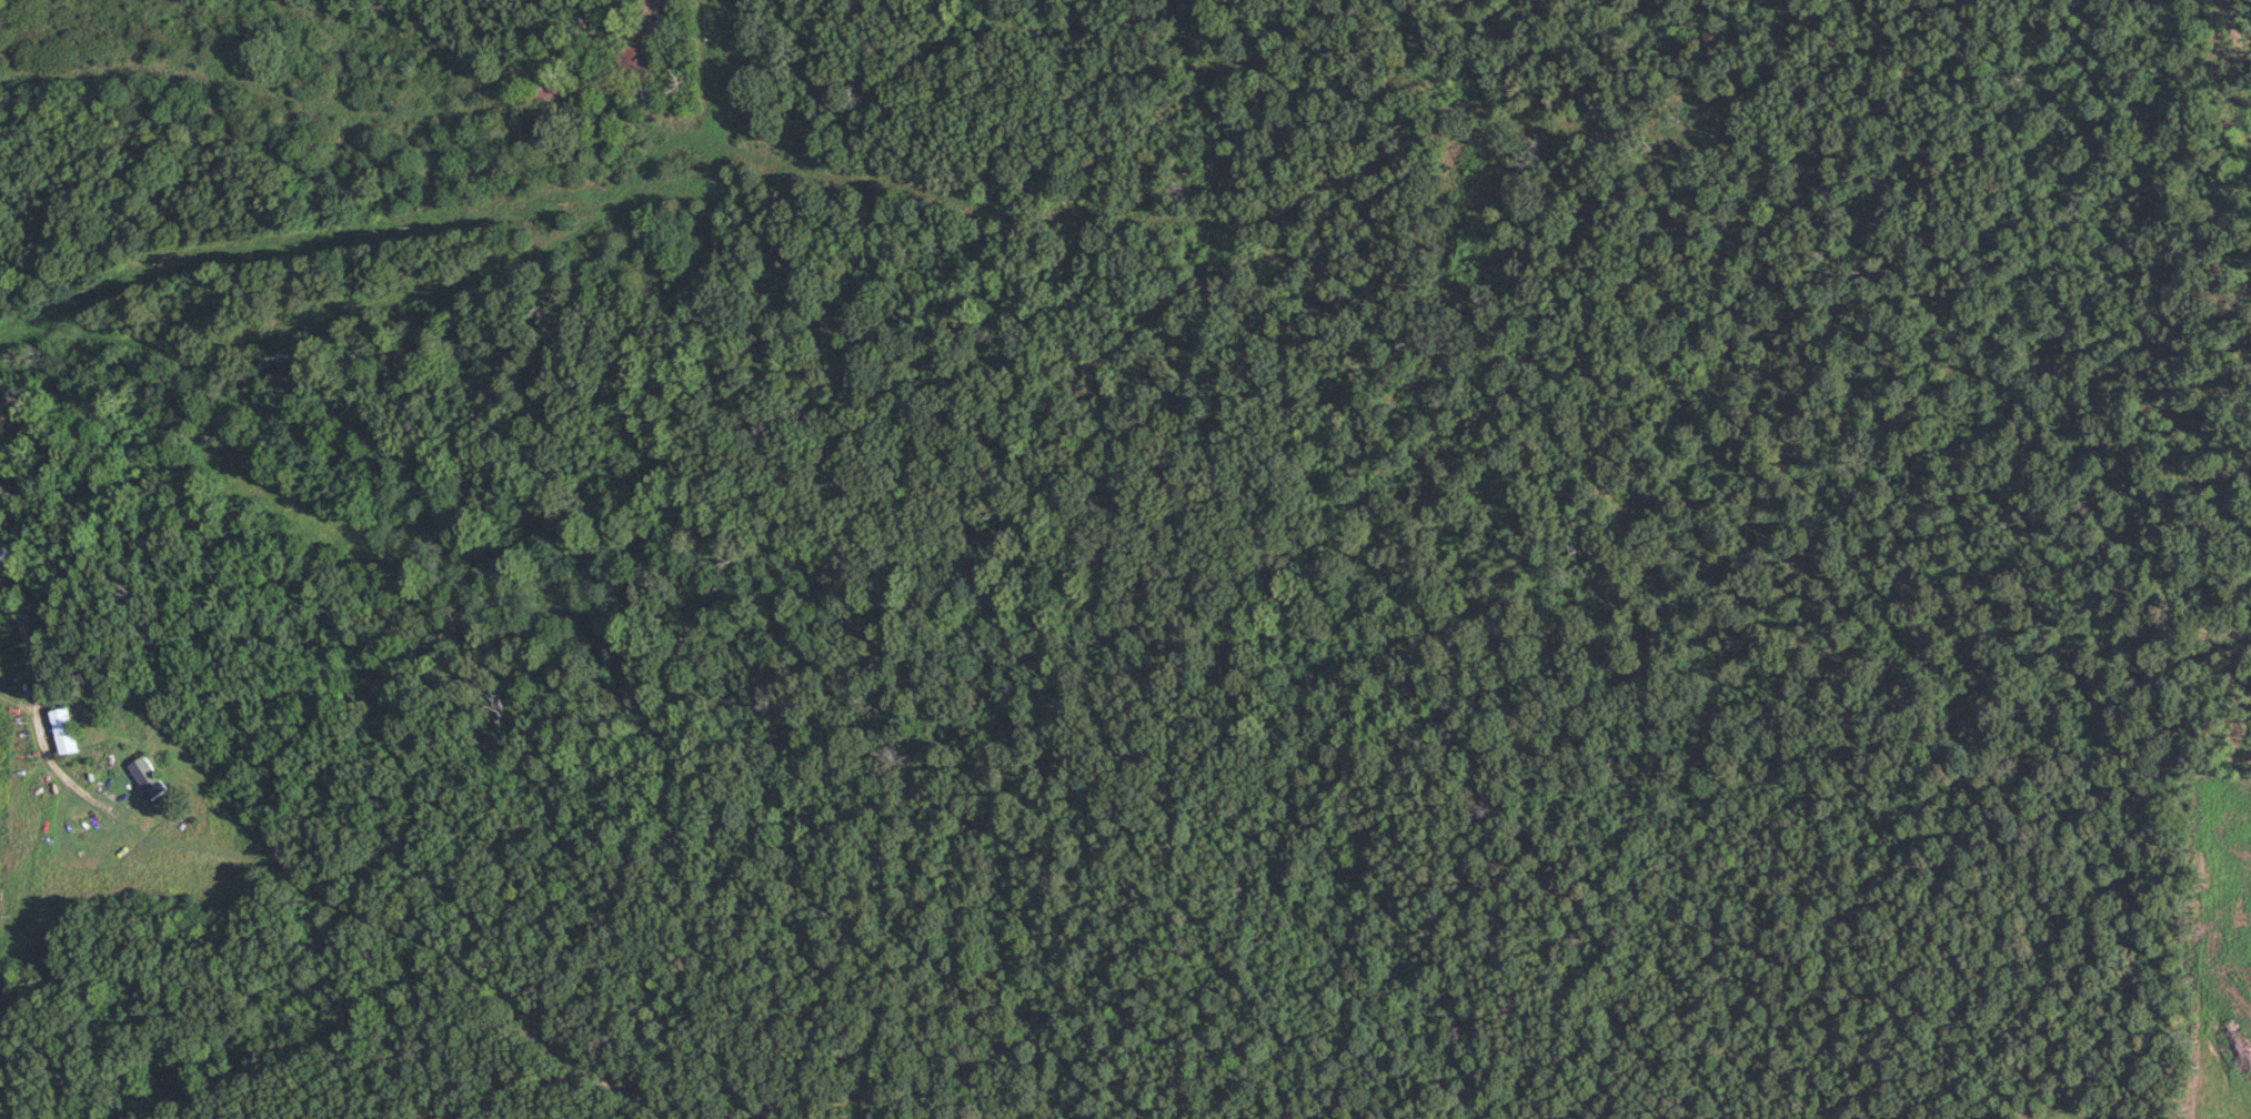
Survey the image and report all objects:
road: (283, 100)
building: (11, 555)
road: (29, 656)
building: (67, 733)
road: (60, 772)
building: (151, 779)

